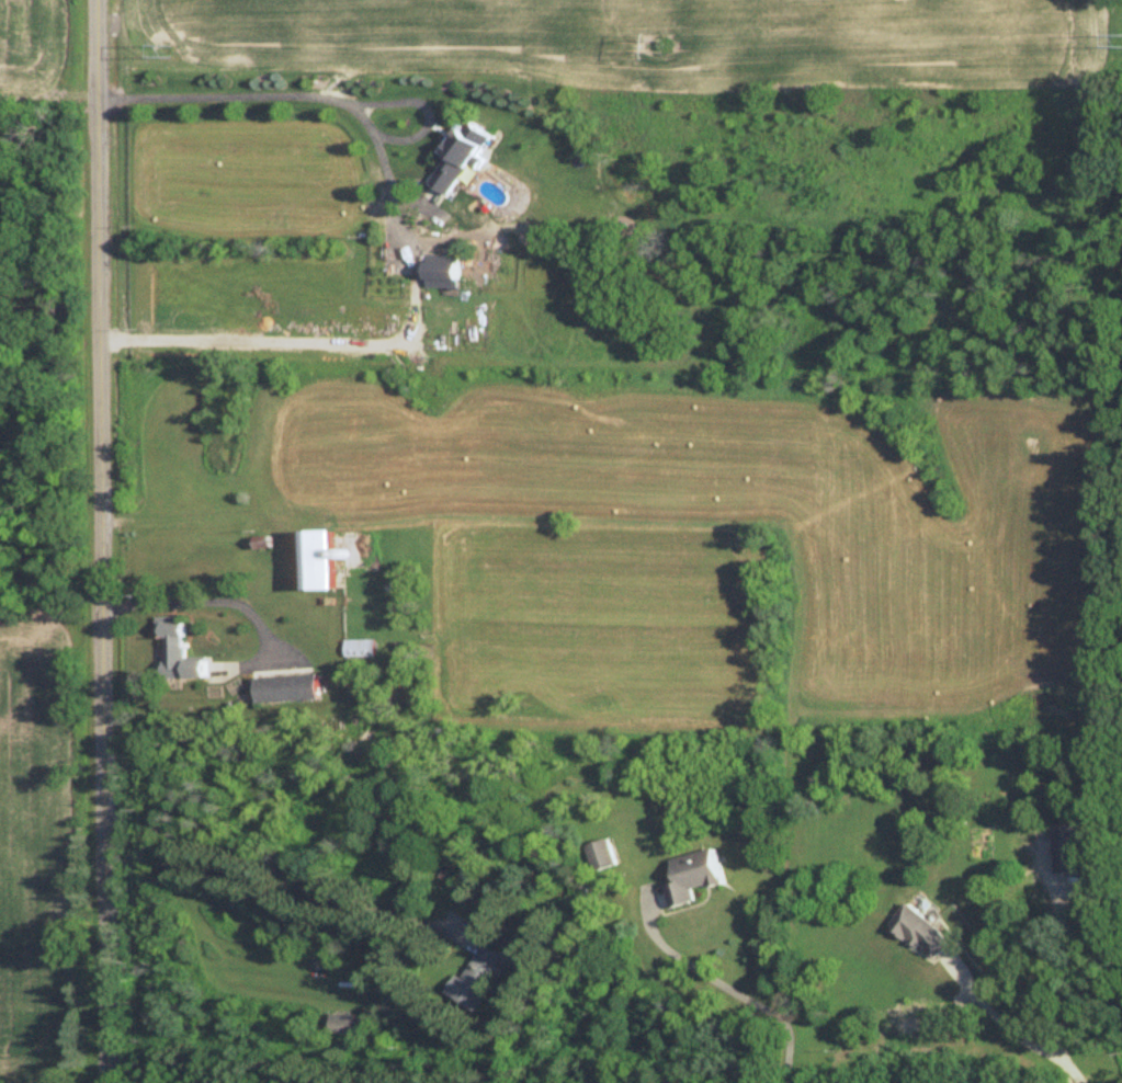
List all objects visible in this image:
road: (319, 101)
building: (457, 156)
building: (440, 275)
road: (100, 541)
building: (319, 560)
road: (199, 601)
building: (360, 649)
building: (175, 653)
building: (284, 689)
building: (1064, 850)
building: (601, 856)
building: (478, 868)
building: (691, 877)
road: (287, 894)
building: (919, 933)
building: (477, 978)
road: (1055, 979)
road: (734, 989)
building: (347, 1025)
road: (1012, 1031)

